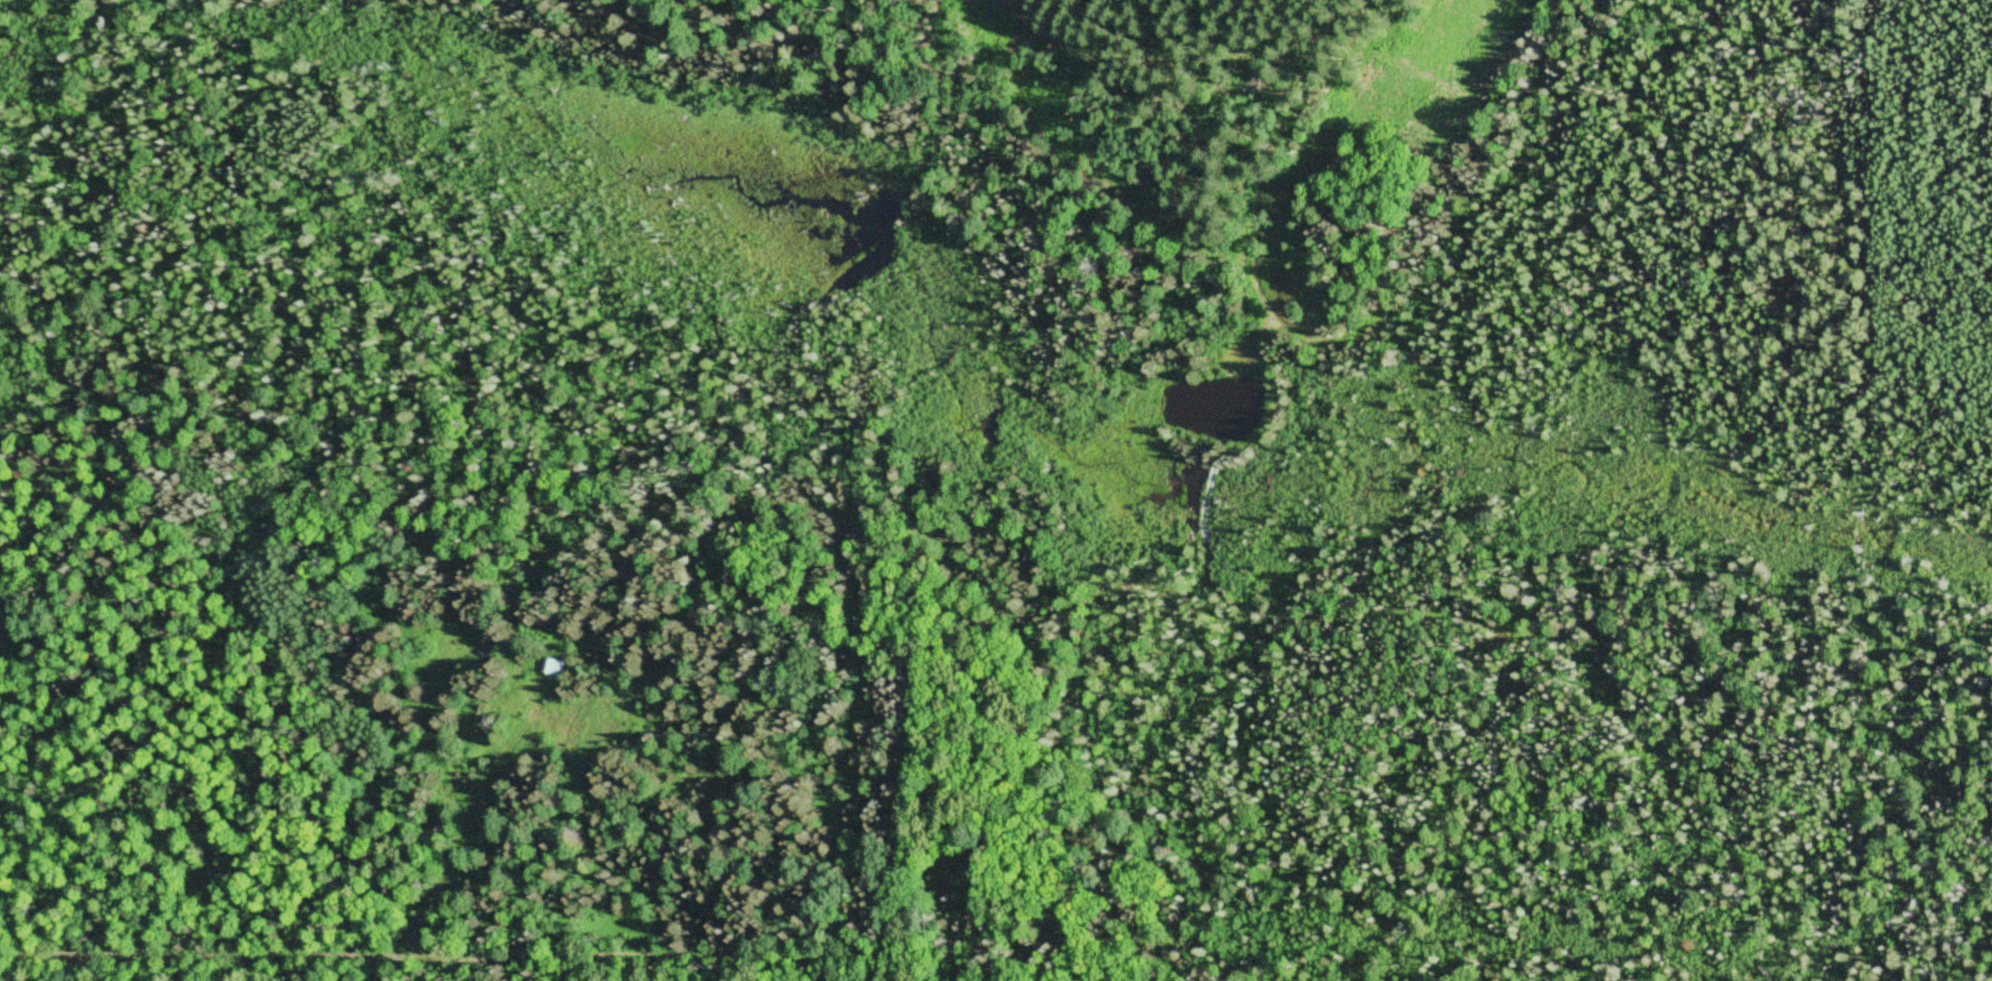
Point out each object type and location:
road: (507, 950)

